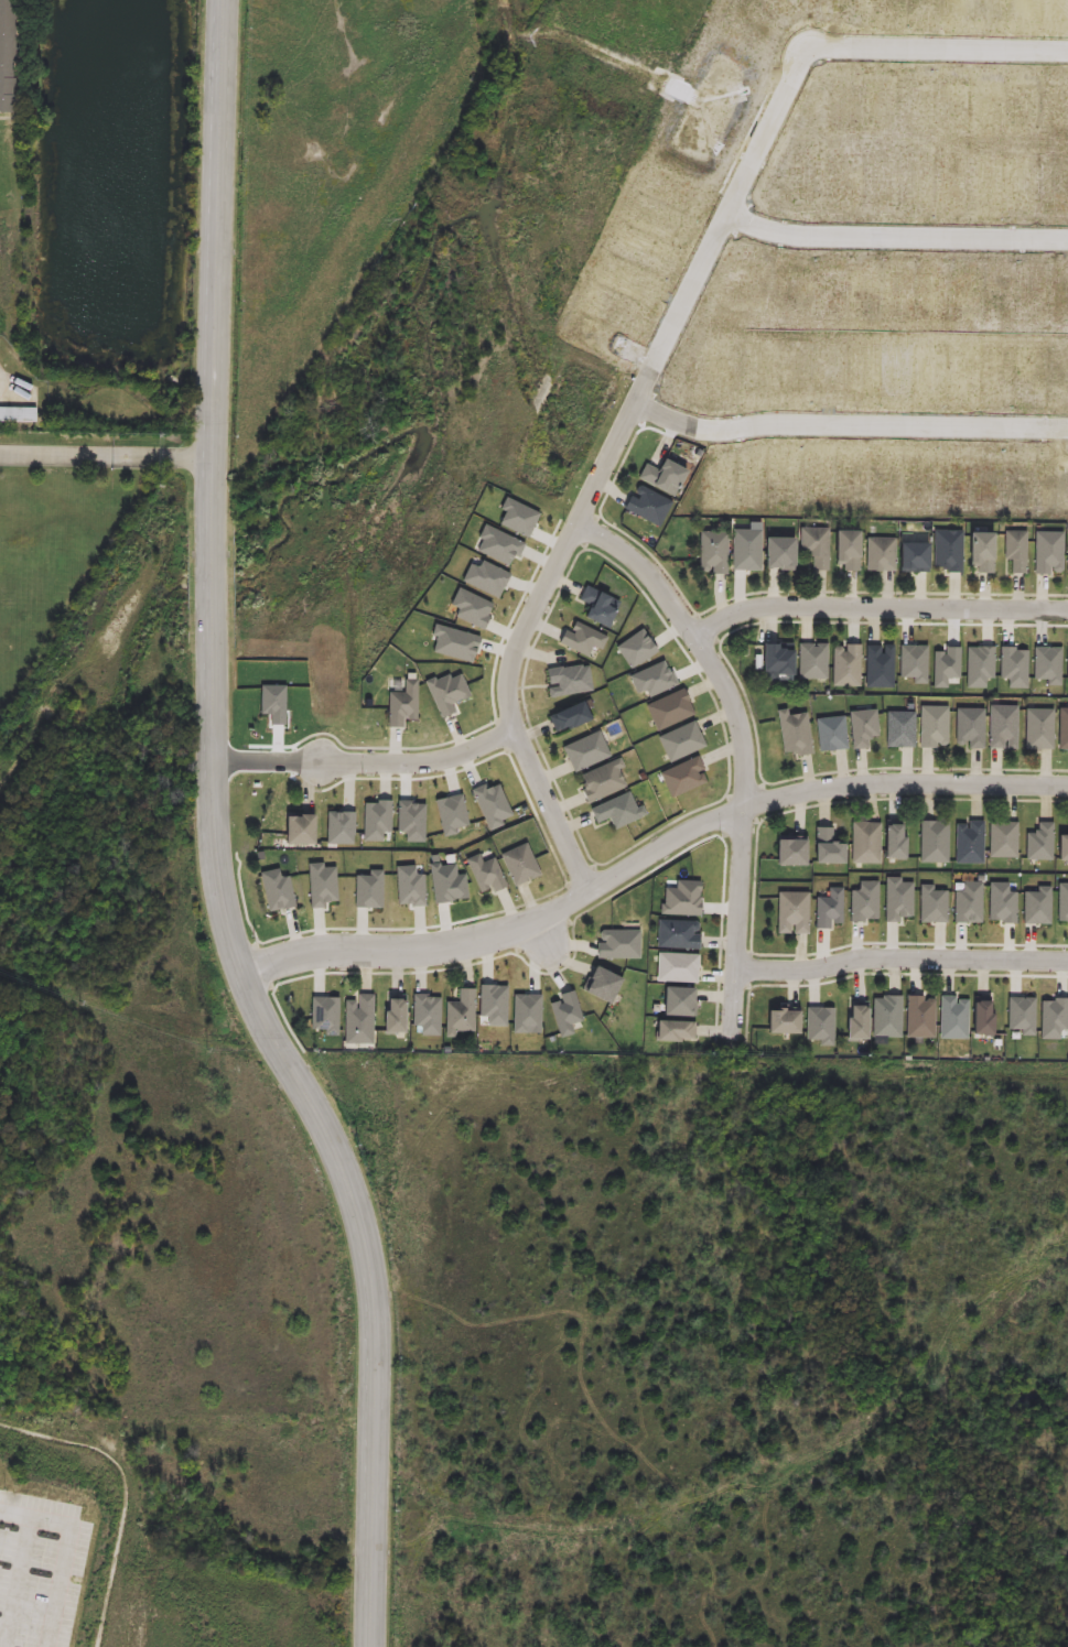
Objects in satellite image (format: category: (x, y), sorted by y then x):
road: (939, 54)
building: (4, 56)
road: (769, 163)
road: (742, 218)
road: (726, 229)
road: (898, 240)
road: (697, 314)
building: (831, 367)
building: (716, 368)
building: (866, 368)
building: (799, 369)
building: (762, 370)
building: (932, 371)
building: (965, 371)
building: (898, 372)
building: (1000, 373)
building: (1033, 373)
building: (1060, 373)
railway: (257, 393)
road: (651, 408)
road: (860, 410)
building: (18, 418)
road: (849, 422)
road: (854, 440)
road: (109, 457)
road: (618, 468)
building: (787, 475)
building: (819, 475)
building: (953, 477)
building: (1055, 478)
building: (854, 480)
building: (920, 480)
building: (664, 481)
building: (754, 481)
building: (989, 481)
building: (886, 484)
building: (1020, 486)
building: (721, 488)
building: (647, 510)
building: (517, 520)
road: (591, 535)
building: (498, 545)
building: (816, 546)
building: (846, 549)
building: (747, 550)
building: (1017, 550)
building: (948, 551)
building: (714, 552)
building: (1048, 552)
building: (982, 553)
building: (882, 554)
building: (781, 555)
building: (915, 559)
road: (654, 561)
building: (485, 578)
road: (878, 594)
road: (877, 608)
building: (471, 609)
building: (598, 610)
road: (706, 630)
road: (520, 643)
building: (580, 643)
building: (455, 644)
building: (636, 650)
building: (813, 663)
building: (914, 664)
building: (779, 665)
building: (1048, 665)
building: (1067, 665)
building: (848, 668)
building: (947, 668)
building: (979, 668)
building: (1014, 668)
building: (881, 669)
building: (652, 682)
building: (569, 684)
road: (740, 687)
building: (446, 696)
building: (273, 706)
building: (402, 706)
building: (669, 709)
building: (569, 720)
building: (864, 727)
building: (1003, 727)
building: (935, 728)
building: (971, 728)
road: (476, 729)
building: (1042, 730)
building: (1065, 730)
building: (902, 732)
road: (499, 736)
building: (796, 736)
building: (833, 736)
building: (679, 743)
road: (745, 748)
building: (584, 756)
road: (369, 763)
building: (681, 778)
building: (601, 784)
building: (492, 806)
building: (452, 813)
building: (616, 814)
building: (410, 820)
building: (377, 822)
road: (757, 825)
building: (341, 830)
building: (300, 835)
road: (543, 835)
road: (217, 838)
building: (1005, 842)
building: (1043, 844)
building: (936, 845)
building: (972, 845)
building: (867, 846)
road: (584, 849)
building: (897, 849)
building: (1064, 850)
building: (830, 852)
road: (649, 856)
building: (795, 858)
building: (519, 869)
road: (579, 873)
building: (484, 877)
building: (446, 886)
building: (321, 887)
building: (409, 887)
building: (369, 892)
road: (752, 892)
building: (276, 895)
building: (681, 896)
building: (899, 899)
road: (245, 900)
building: (866, 902)
building: (1002, 903)
building: (935, 904)
building: (970, 904)
building: (1062, 904)
building: (1037, 907)
building: (830, 910)
road: (581, 912)
building: (797, 914)
building: (676, 933)
building: (617, 950)
road: (902, 958)
road: (263, 967)
building: (676, 967)
road: (751, 971)
road: (881, 974)
building: (602, 992)
building: (677, 1003)
building: (494, 1005)
building: (323, 1015)
building: (526, 1015)
building: (564, 1015)
building: (427, 1016)
building: (888, 1016)
building: (953, 1016)
building: (1021, 1016)
building: (460, 1017)
building: (920, 1017)
building: (1053, 1020)
building: (984, 1021)
building: (821, 1022)
building: (357, 1023)
building: (393, 1023)
building: (785, 1026)
building: (859, 1026)
road: (292, 1028)
building: (673, 1033)
road: (63, 1552)
parking lot: (40, 1567)
road: (17, 1583)

